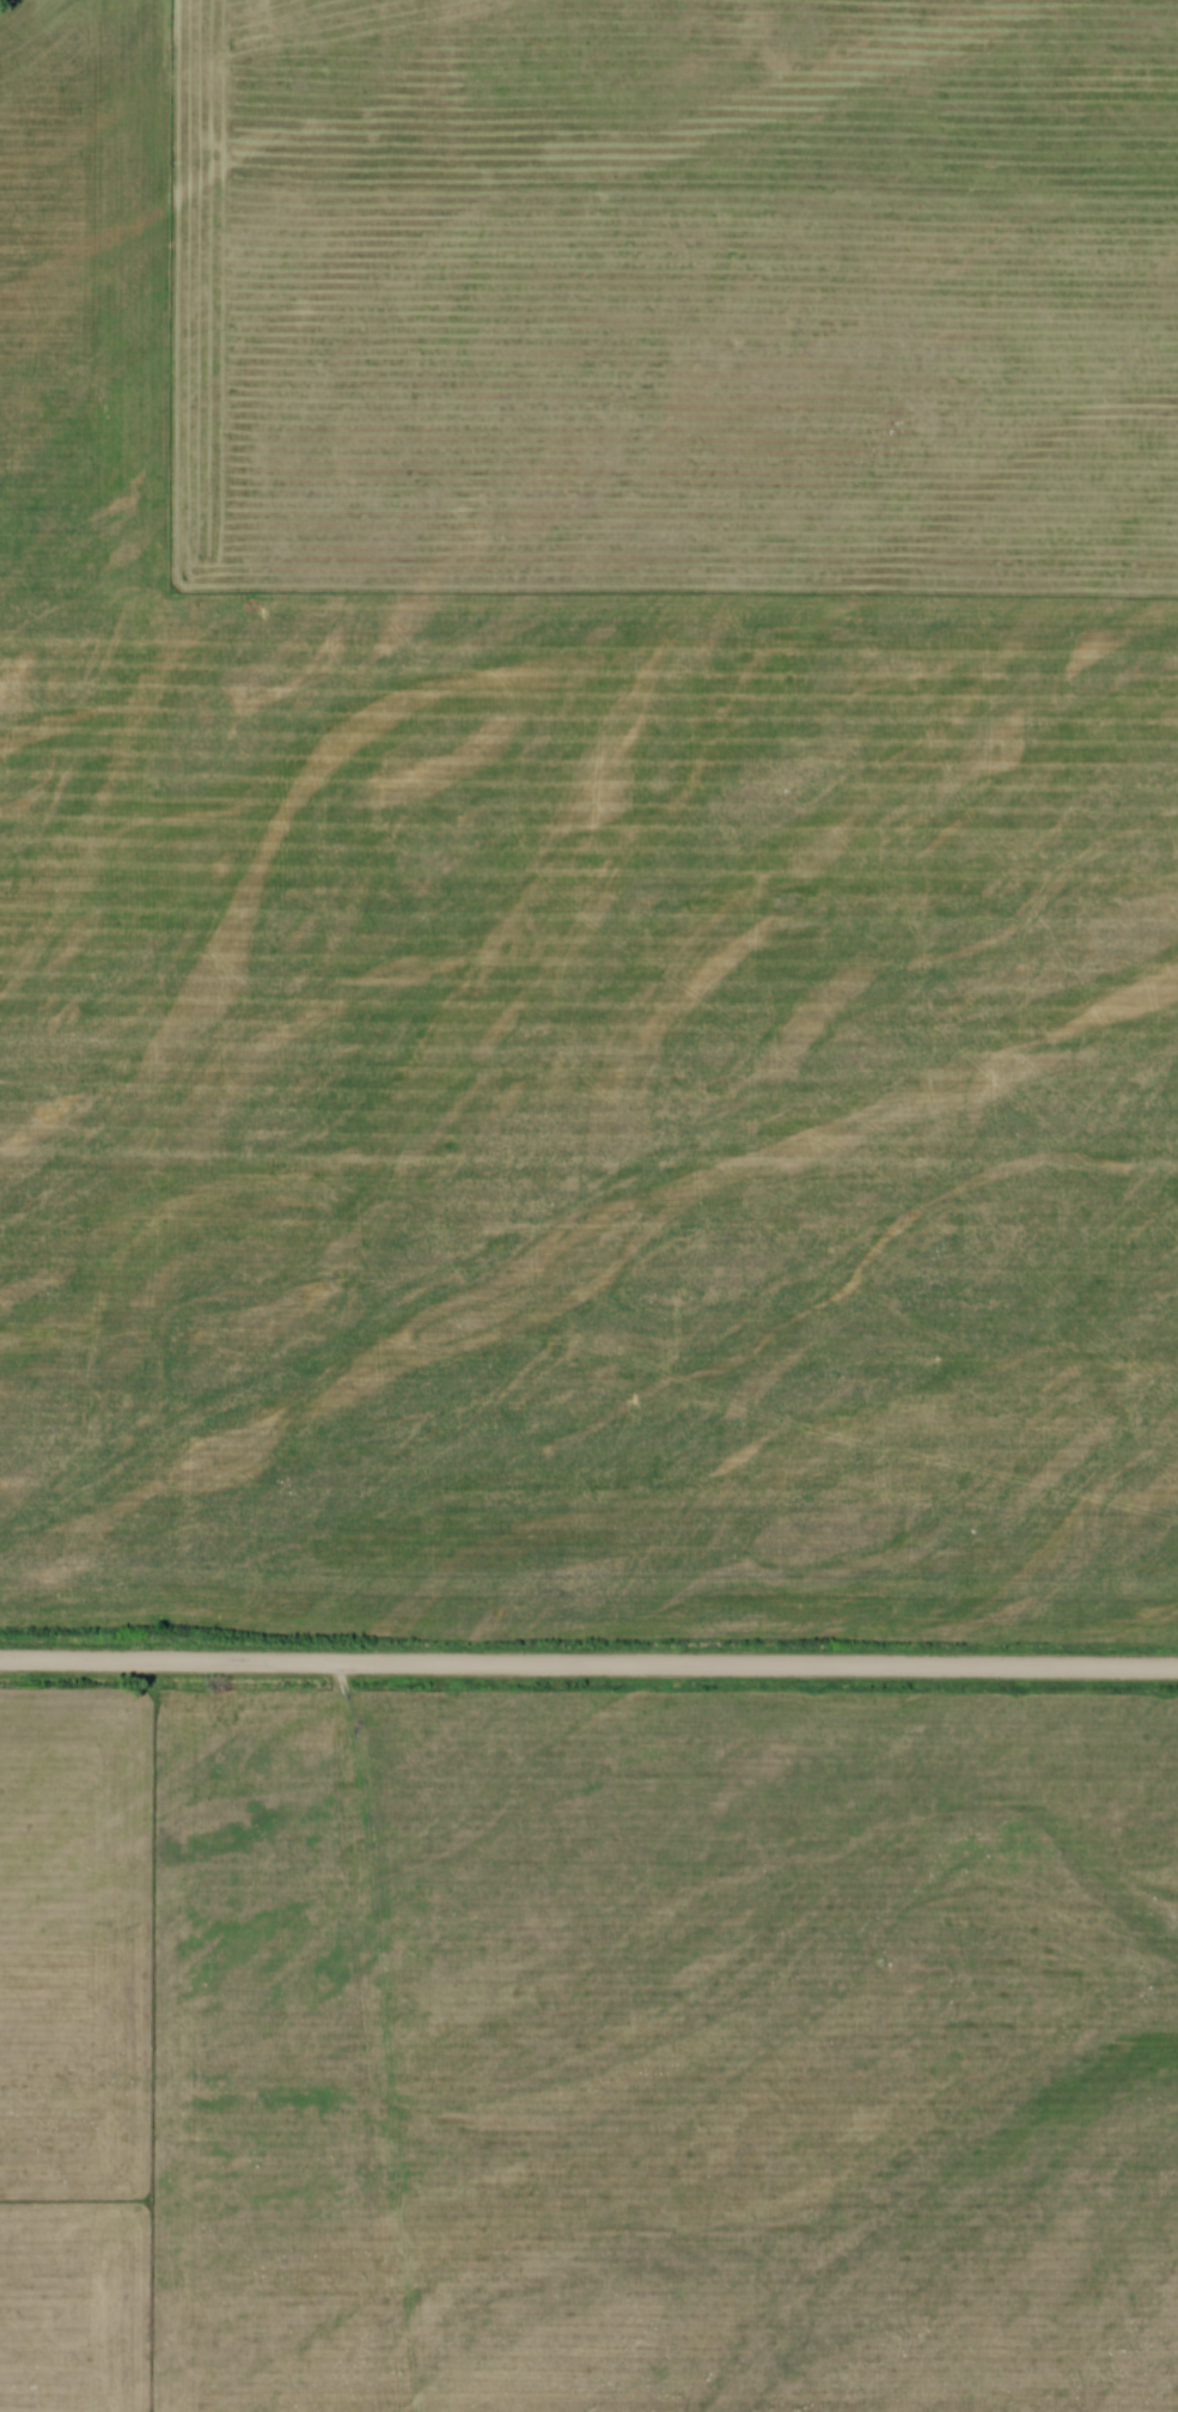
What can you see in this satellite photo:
road: (588, 1664)

